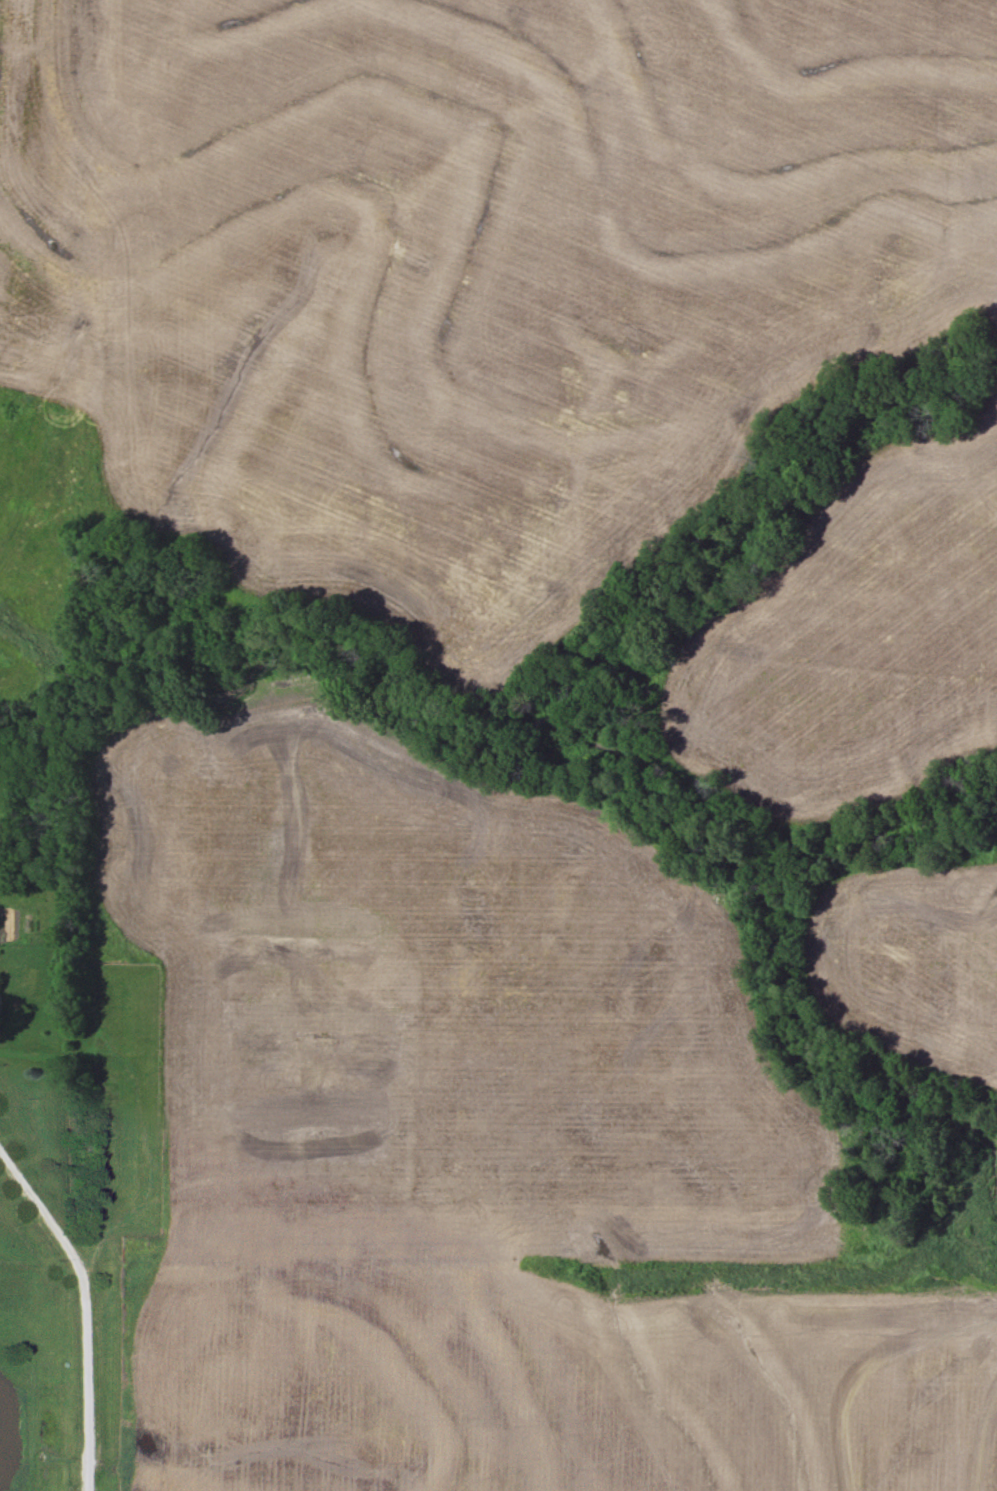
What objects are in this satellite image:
road: (81, 1310)

